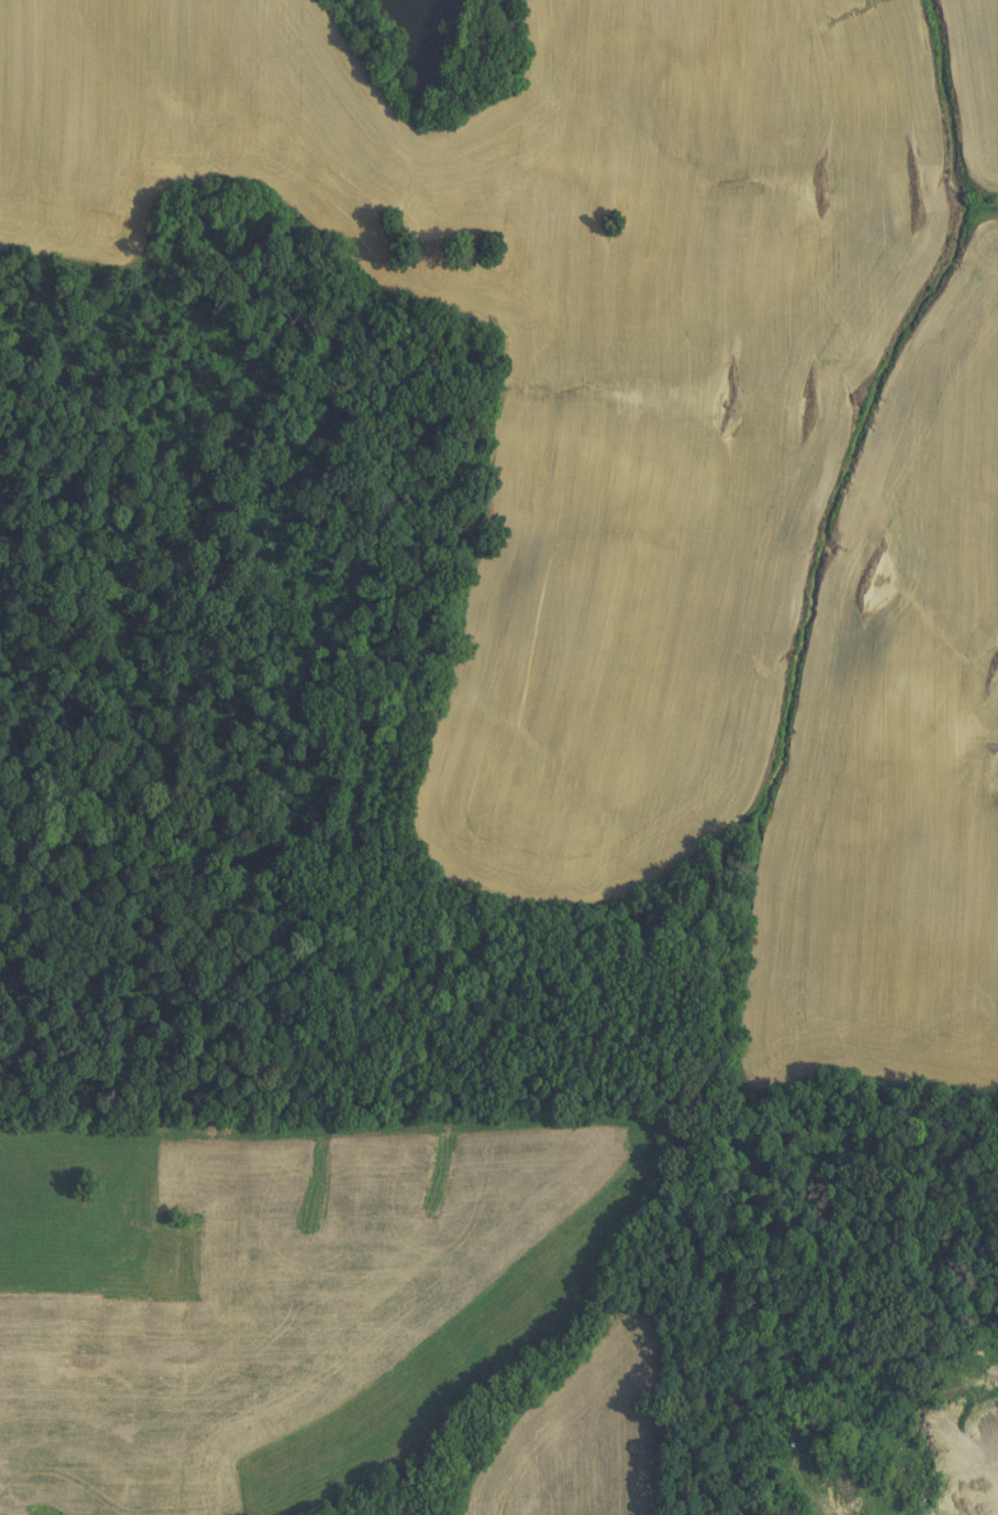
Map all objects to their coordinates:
building: (839, 1472)

